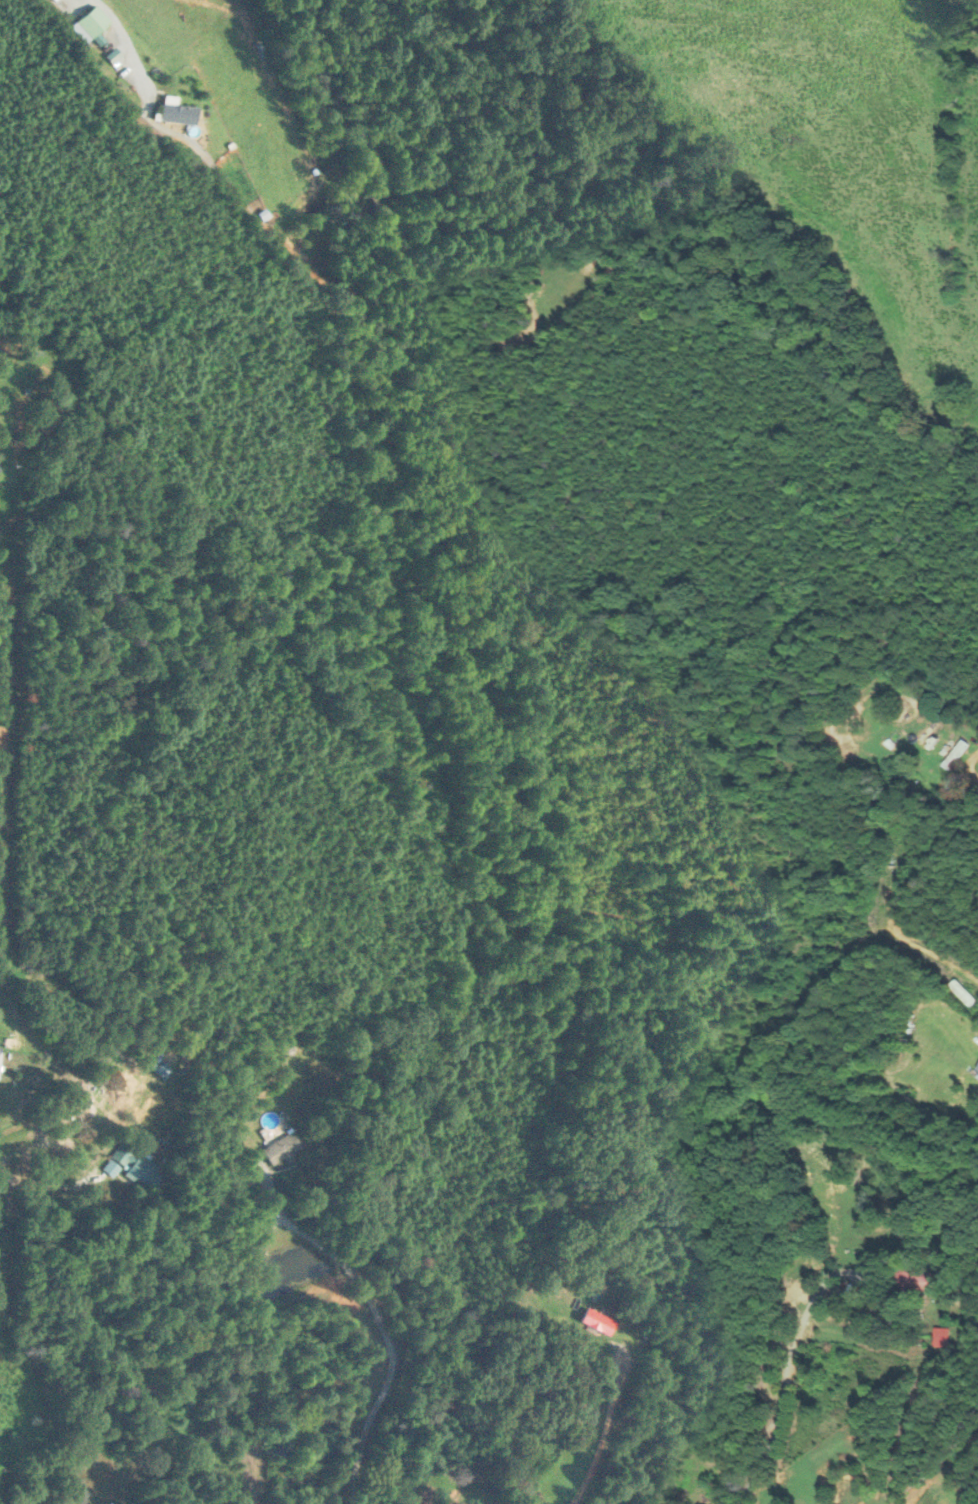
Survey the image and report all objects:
building: (0, 1049)
building: (285, 1148)
building: (125, 1153)
building: (146, 1173)
building: (915, 1279)
building: (600, 1322)
building: (946, 1337)
building: (179, 1423)
building: (285, 1446)

